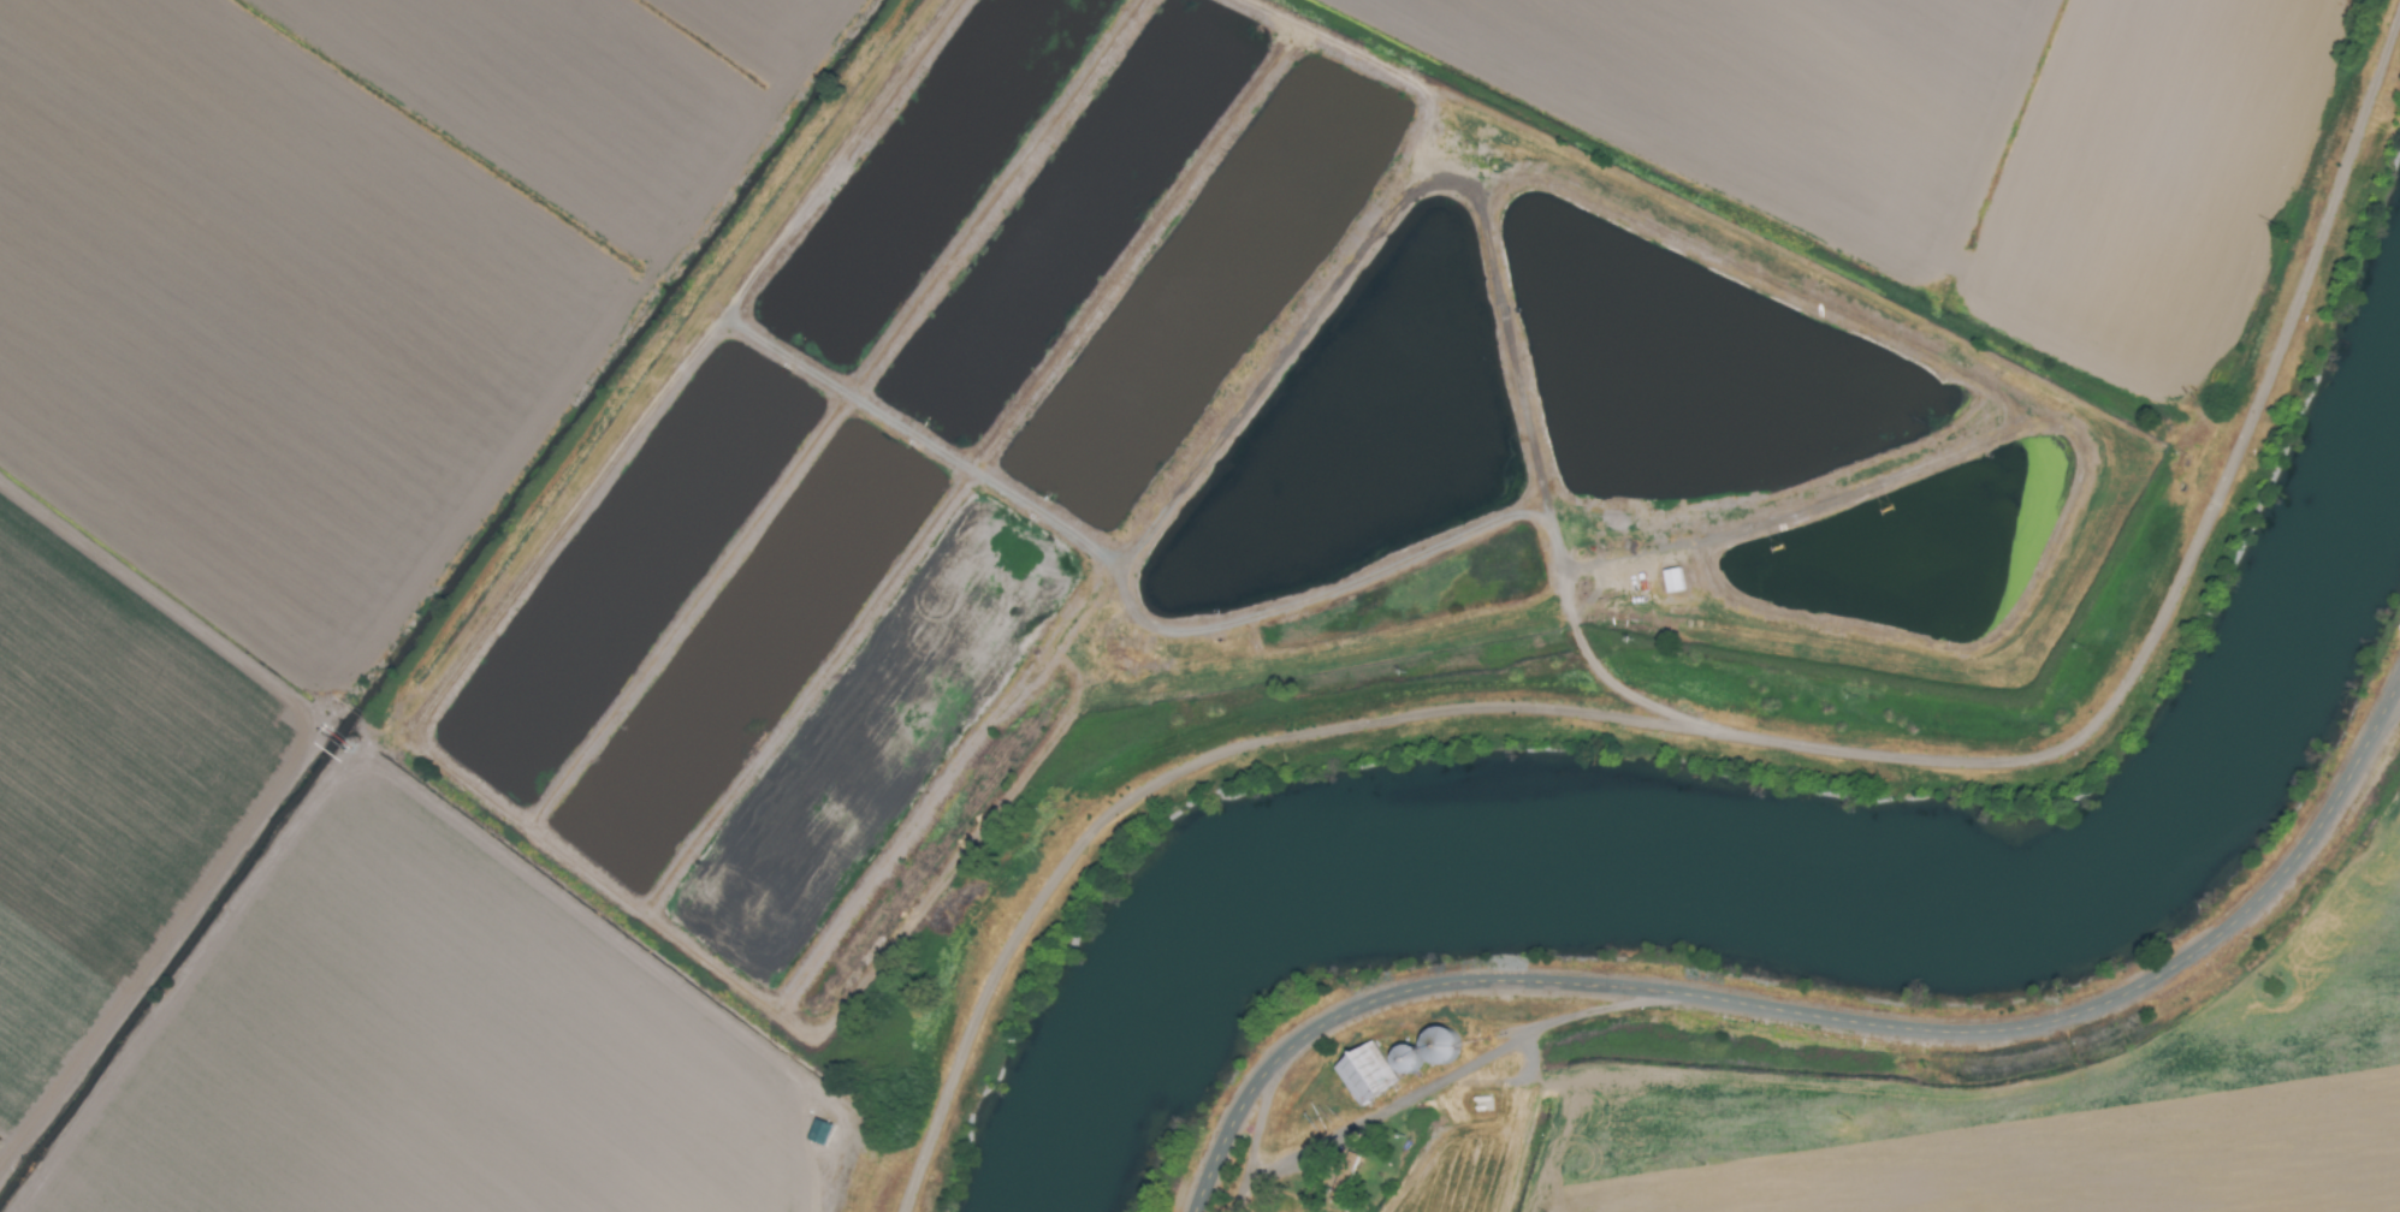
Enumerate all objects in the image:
crop: (2010, 145)
road: (1509, 344)
road: (834, 416)
road: (2050, 426)
road: (973, 474)
road: (1795, 501)
building: (1679, 582)
crop: (336, 604)
road: (1231, 607)
road: (1762, 741)
road: (278, 761)
road: (608, 985)
road: (777, 1005)
road: (179, 1009)
road: (1823, 1018)
building: (1423, 1051)
crop: (1932, 1073)
building: (1363, 1074)
road: (1428, 1094)
road: (1254, 1135)

